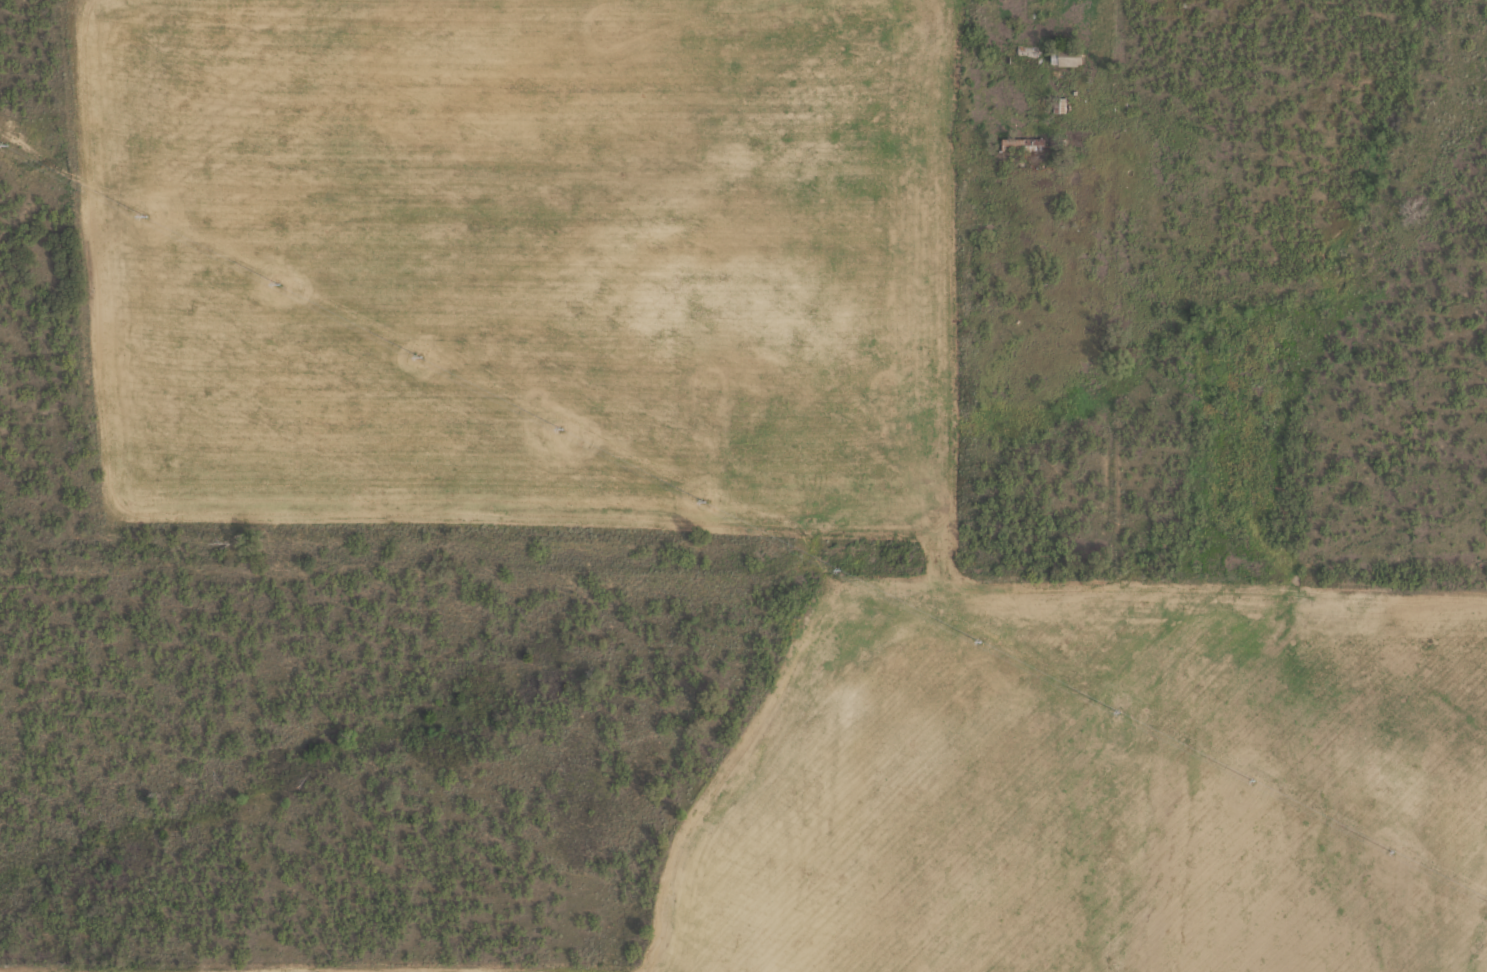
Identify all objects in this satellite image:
building: (1063, 56)
building: (1021, 143)

